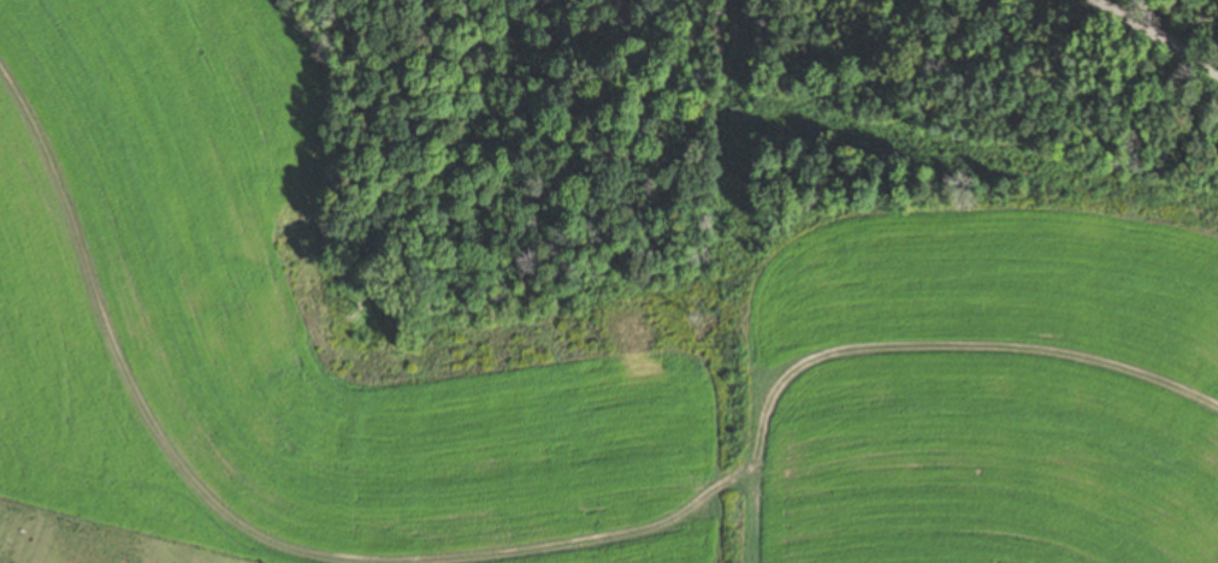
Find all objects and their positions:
road: (1153, 36)

